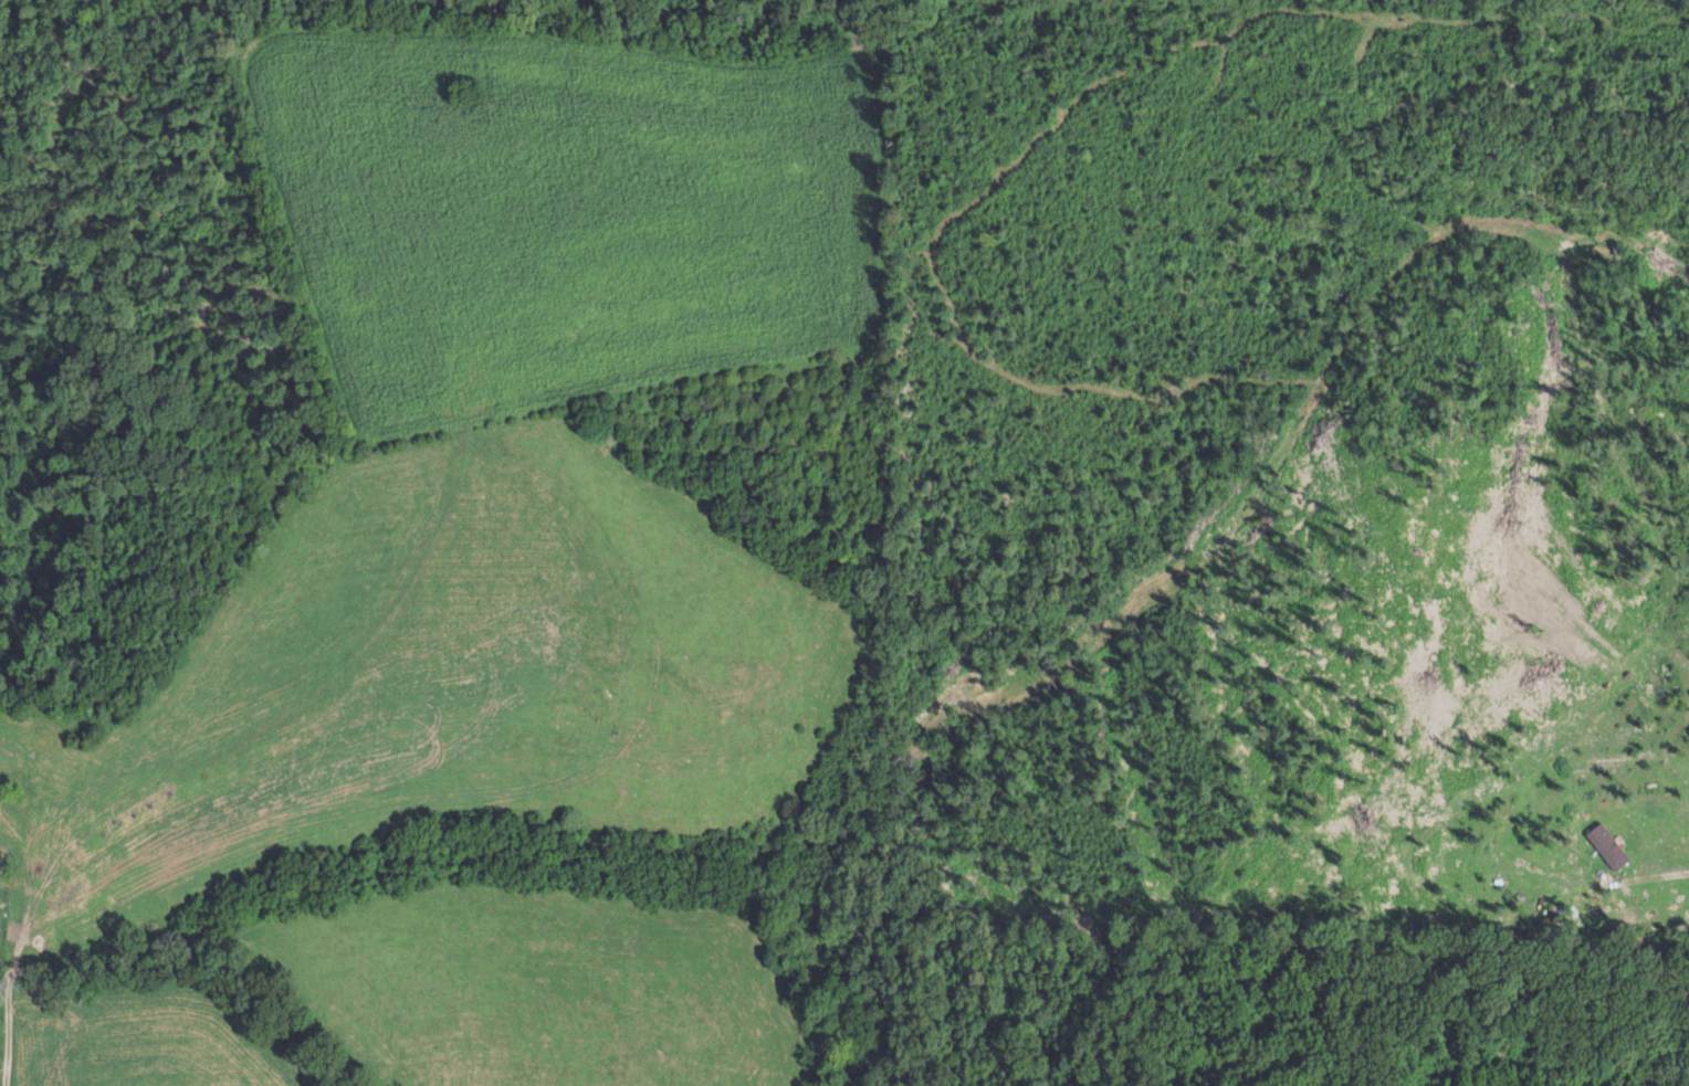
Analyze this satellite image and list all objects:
building: (1606, 847)
road: (1659, 879)

